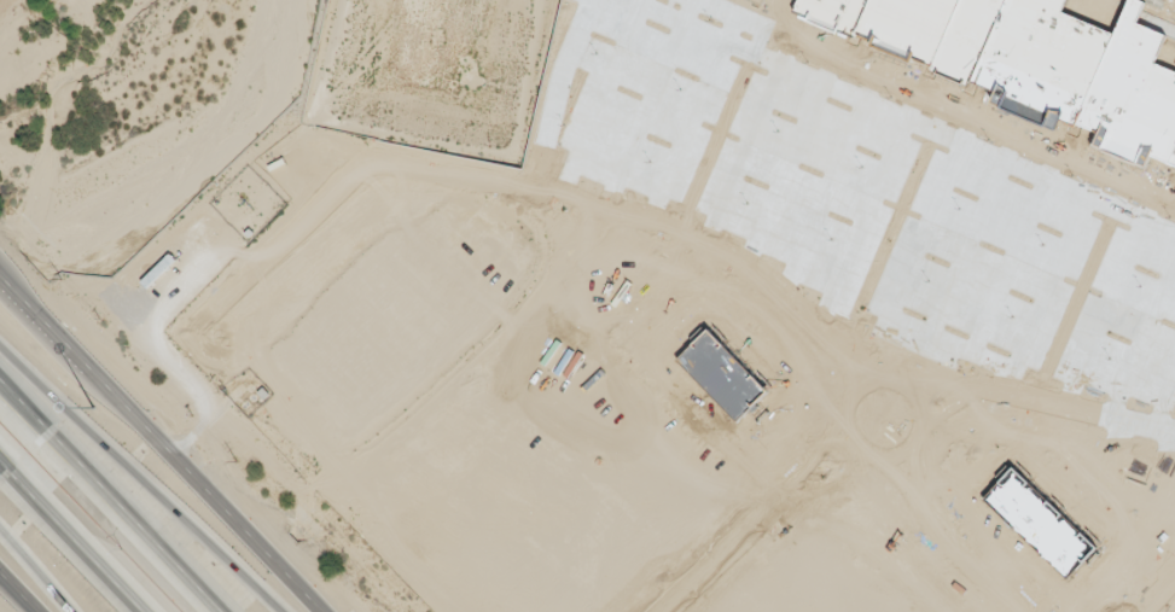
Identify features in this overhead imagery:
road: (162, 442)
road: (144, 479)
road: (110, 496)
road: (72, 536)
road: (36, 571)
road: (19, 590)

